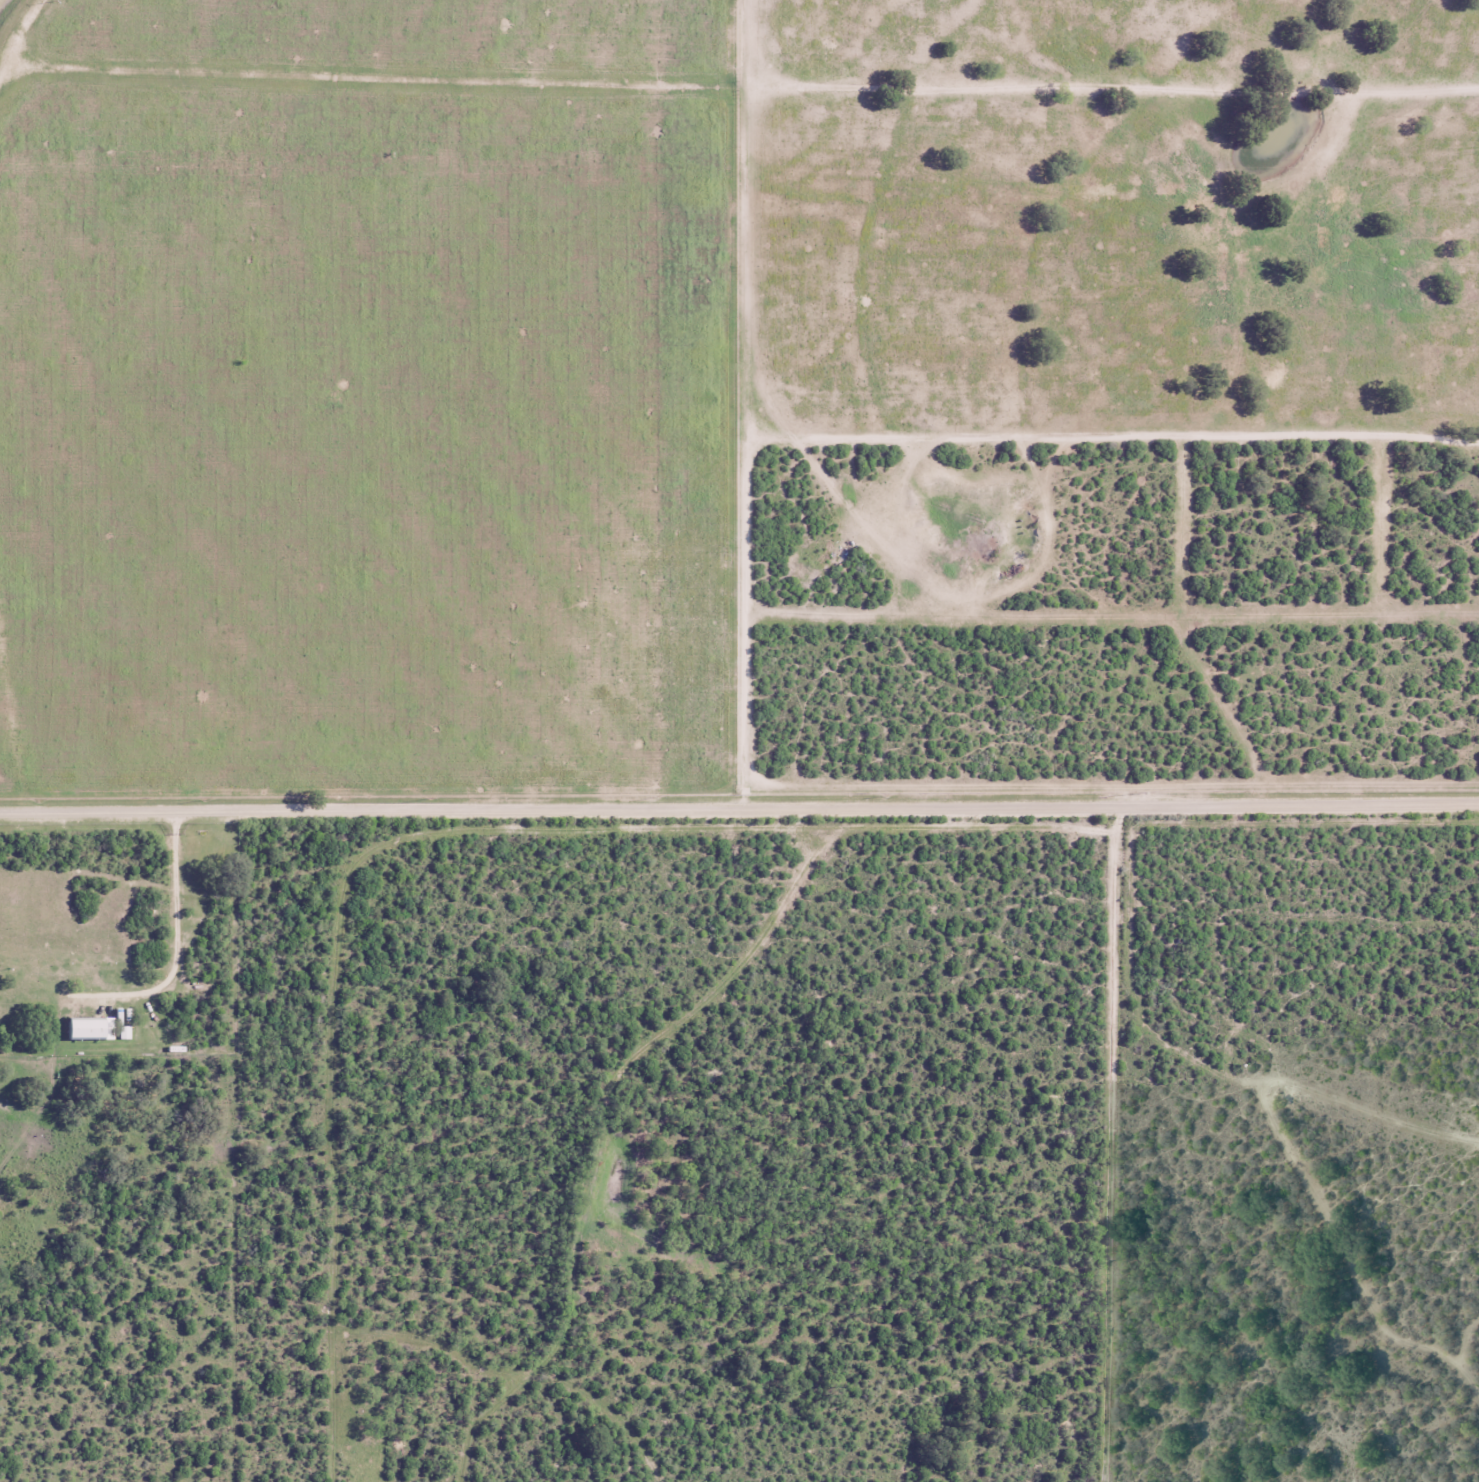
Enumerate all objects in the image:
road: (739, 806)
building: (80, 1028)
road: (1121, 1142)

